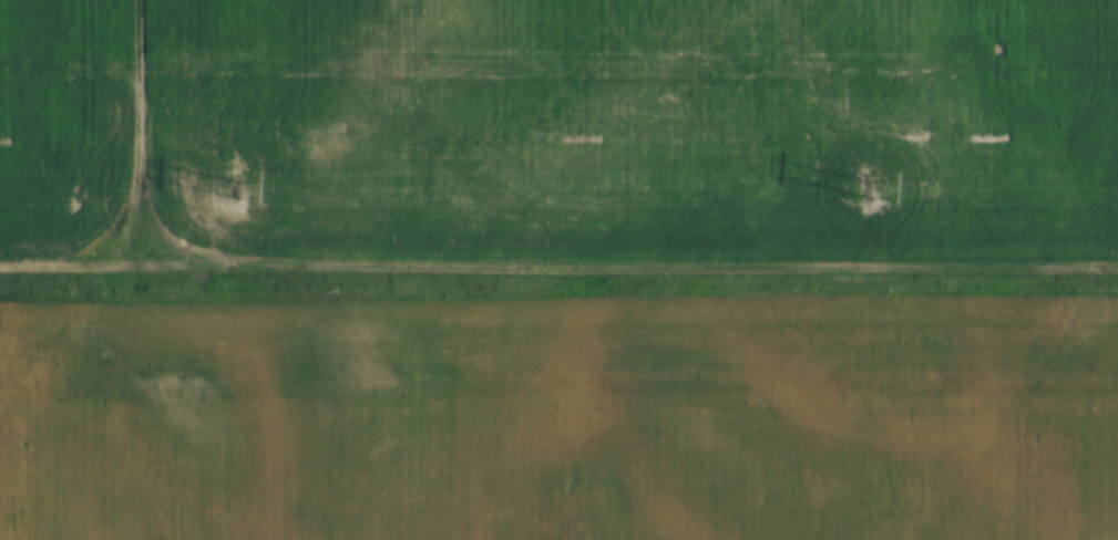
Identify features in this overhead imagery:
road: (137, 135)
power tower: (222, 185)
power tower: (866, 187)
road: (557, 270)

